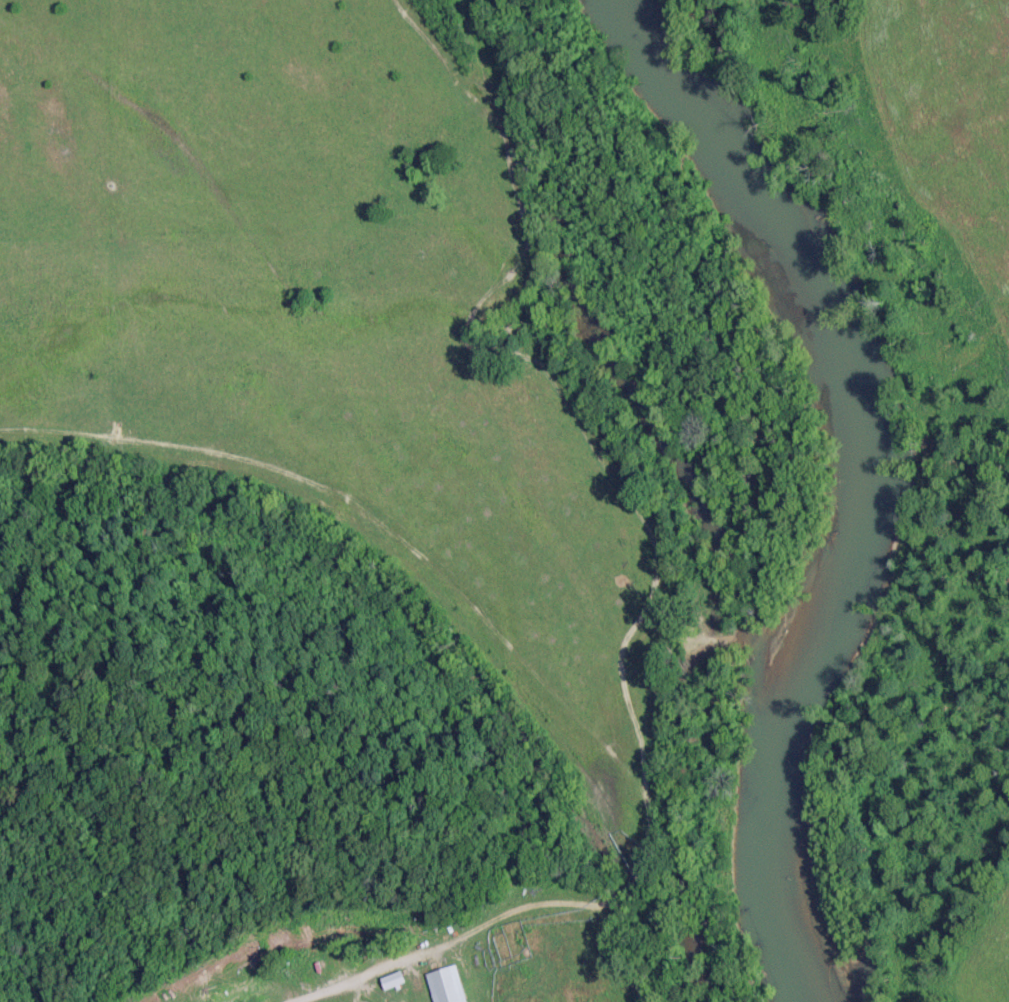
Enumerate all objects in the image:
river: (878, 470)
building: (443, 985)
road: (323, 988)

